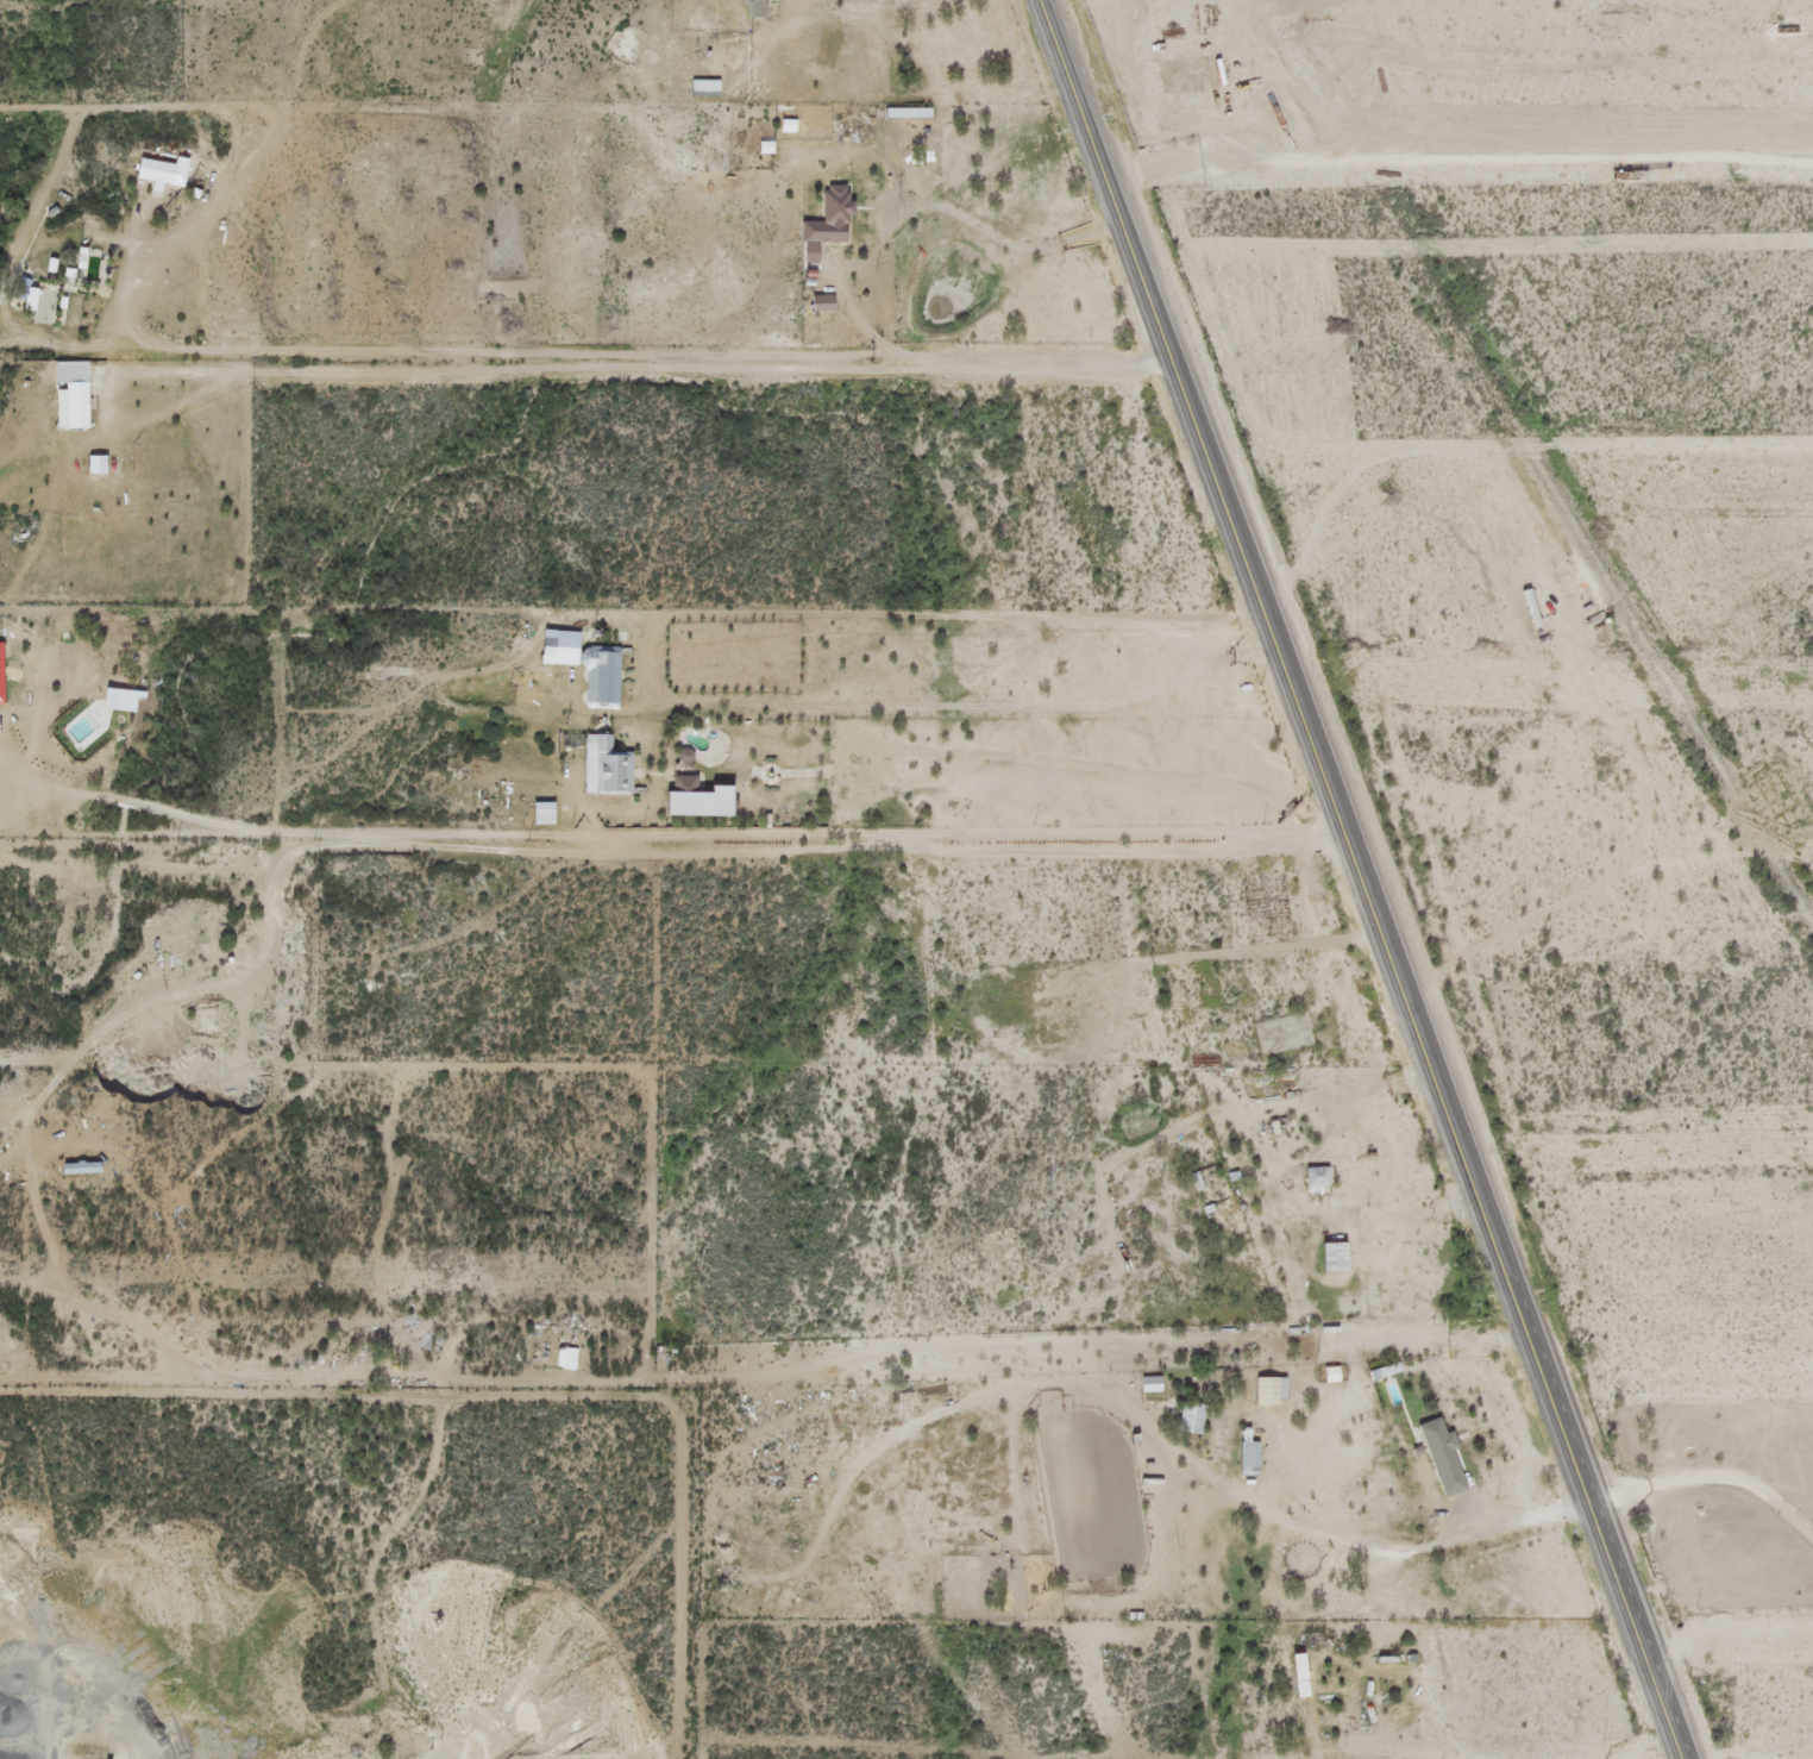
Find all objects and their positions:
building: (749, 10)
building: (148, 174)
building: (823, 220)
building: (77, 267)
road: (128, 281)
building: (65, 408)
road: (451, 665)
building: (594, 678)
building: (604, 777)
building: (677, 787)
building: (537, 816)
road: (1356, 880)
building: (1275, 1035)
building: (74, 1170)
road: (904, 1171)
building: (1309, 1178)
building: (1325, 1259)
power tower: (125, 1275)
power tower: (704, 1281)
building: (1143, 1386)
building: (1257, 1394)
road: (1685, 1395)
building: (1184, 1421)
building: (1240, 1436)
building: (1435, 1459)
power tower: (977, 1677)
building: (1291, 1678)

